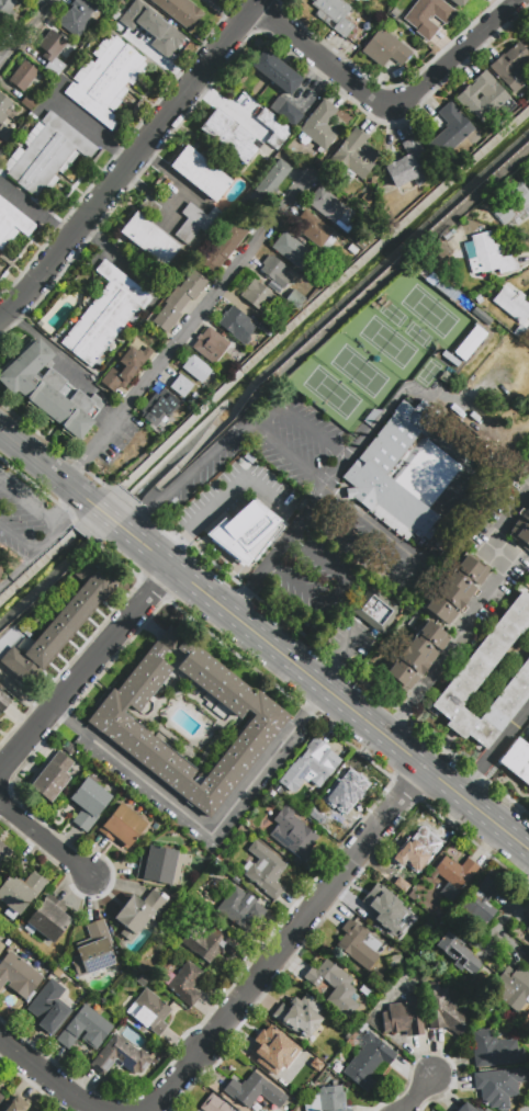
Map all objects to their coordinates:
building: (459, 2)
building: (106, 3)
building: (7, 9)
building: (181, 11)
building: (394, 11)
building: (333, 14)
building: (77, 15)
building: (427, 15)
building: (153, 27)
road: (23, 31)
building: (384, 47)
building: (53, 52)
building: (513, 66)
building: (275, 71)
building: (25, 76)
building: (106, 79)
road: (201, 84)
building: (489, 98)
building: (29, 102)
road: (387, 103)
building: (285, 111)
building: (3, 117)
building: (318, 126)
building: (273, 127)
road: (92, 129)
building: (450, 131)
building: (228, 136)
building: (46, 155)
building: (352, 157)
road: (132, 160)
building: (409, 167)
building: (201, 174)
road: (172, 177)
building: (272, 180)
road: (153, 195)
road: (195, 196)
building: (367, 199)
building: (511, 205)
building: (149, 206)
building: (330, 207)
road: (35, 211)
building: (198, 222)
building: (13, 224)
building: (317, 233)
building: (447, 236)
building: (149, 239)
building: (223, 247)
building: (291, 249)
road: (115, 253)
building: (488, 253)
building: (274, 270)
building: (423, 272)
building: (257, 294)
building: (381, 297)
building: (477, 298)
building: (179, 301)
building: (296, 301)
building: (376, 303)
building: (513, 304)
building: (104, 315)
building: (235, 324)
building: (268, 326)
road: (189, 330)
building: (520, 331)
road: (48, 344)
building: (210, 345)
park: (379, 353)
building: (133, 356)
building: (195, 367)
building: (425, 369)
building: (435, 370)
building: (116, 377)
building: (181, 386)
building: (49, 388)
building: (160, 404)
road: (258, 416)
building: (135, 424)
parking lot: (269, 449)
road: (351, 452)
road: (199, 466)
road: (47, 467)
building: (406, 476)
building: (289, 489)
road: (235, 490)
road: (29, 503)
road: (312, 503)
road: (70, 512)
parking lot: (22, 515)
road: (105, 517)
road: (138, 522)
building: (521, 529)
building: (247, 531)
road: (19, 535)
road: (144, 547)
road: (176, 548)
building: (446, 548)
road: (30, 558)
parking lot: (335, 564)
road: (262, 568)
building: (0, 570)
road: (409, 570)
building: (454, 588)
road: (335, 592)
road: (475, 611)
building: (376, 612)
building: (61, 624)
building: (415, 655)
road: (337, 658)
road: (86, 670)
building: (470, 679)
building: (3, 701)
road: (350, 710)
road: (54, 711)
road: (307, 713)
road: (336, 724)
building: (142, 747)
road: (368, 749)
road: (494, 753)
building: (517, 760)
building: (309, 766)
building: (53, 776)
building: (346, 787)
building: (87, 803)
road: (453, 818)
building: (121, 826)
road: (207, 830)
building: (293, 834)
road: (49, 839)
road: (488, 844)
building: (421, 846)
building: (4, 855)
building: (157, 864)
building: (266, 870)
building: (454, 874)
building: (21, 889)
building: (480, 900)
building: (239, 907)
building: (382, 907)
building: (138, 912)
road: (509, 915)
building: (48, 918)
building: (528, 929)
road: (284, 941)
building: (210, 944)
building: (358, 944)
building: (1, 946)
building: (93, 949)
building: (459, 953)
building: (394, 960)
building: (18, 975)
building: (185, 984)
building: (335, 986)
building: (515, 988)
building: (48, 1007)
building: (443, 1010)
building: (149, 1011)
building: (300, 1017)
building: (403, 1017)
building: (85, 1029)
building: (272, 1048)
building: (494, 1048)
building: (120, 1056)
building: (368, 1061)
road: (58, 1080)
building: (498, 1085)
building: (256, 1091)
road: (420, 1091)
building: (1, 1098)
building: (329, 1099)
building: (16, 1104)
building: (215, 1104)
building: (465, 1108)
building: (482, 1110)

